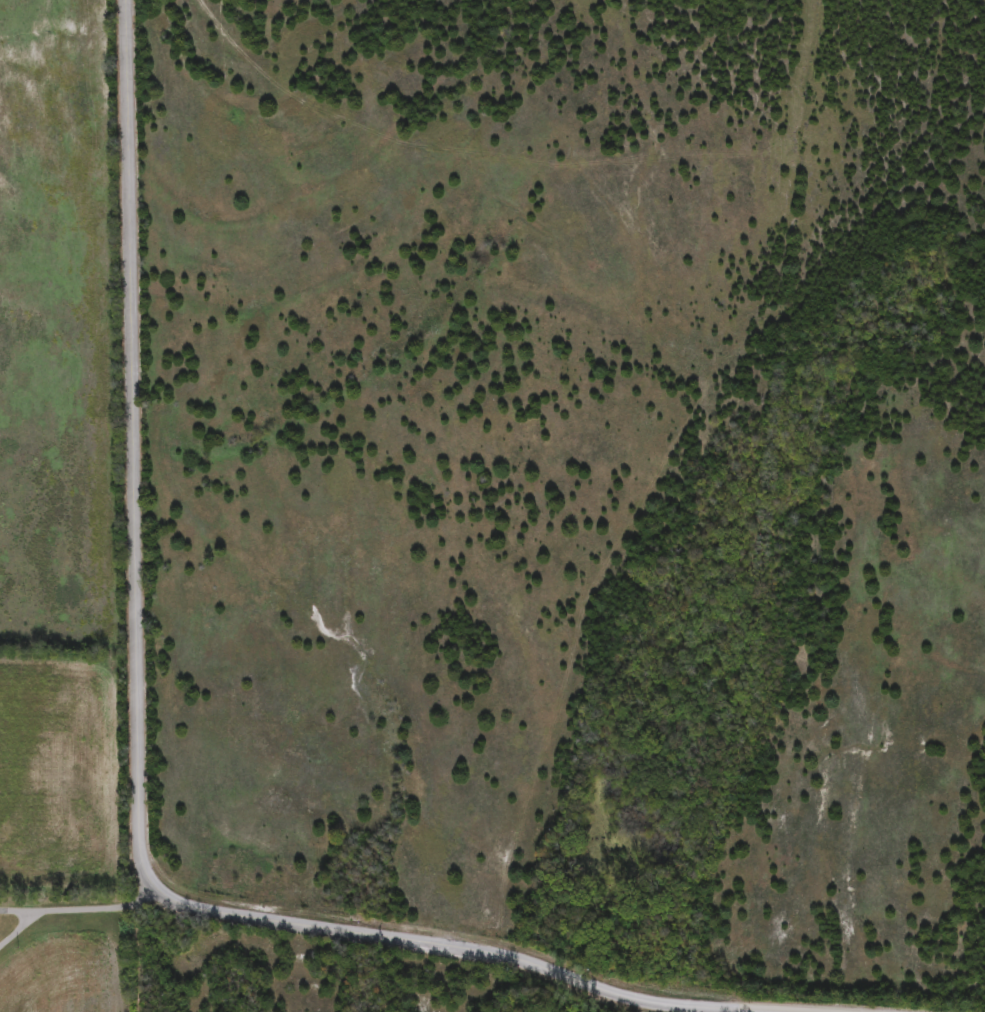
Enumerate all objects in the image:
road: (139, 772)
road: (80, 909)
road: (165, 950)

